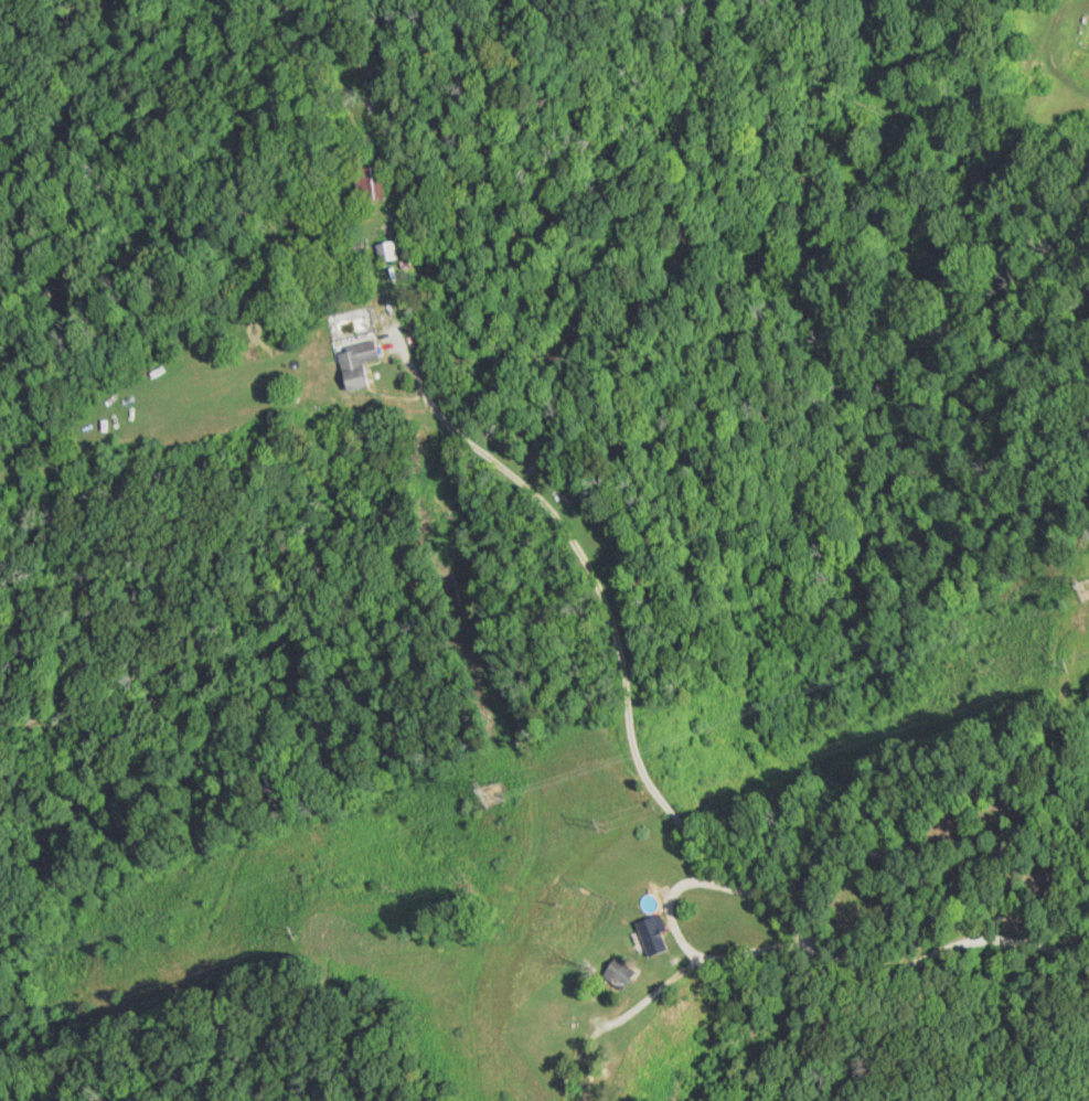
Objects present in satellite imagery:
building: (370, 183)
building: (385, 252)
building: (355, 363)
power tower: (1080, 588)
power tower: (1065, 662)
power tower: (479, 791)
power tower: (600, 826)
building: (651, 936)
building: (617, 971)

